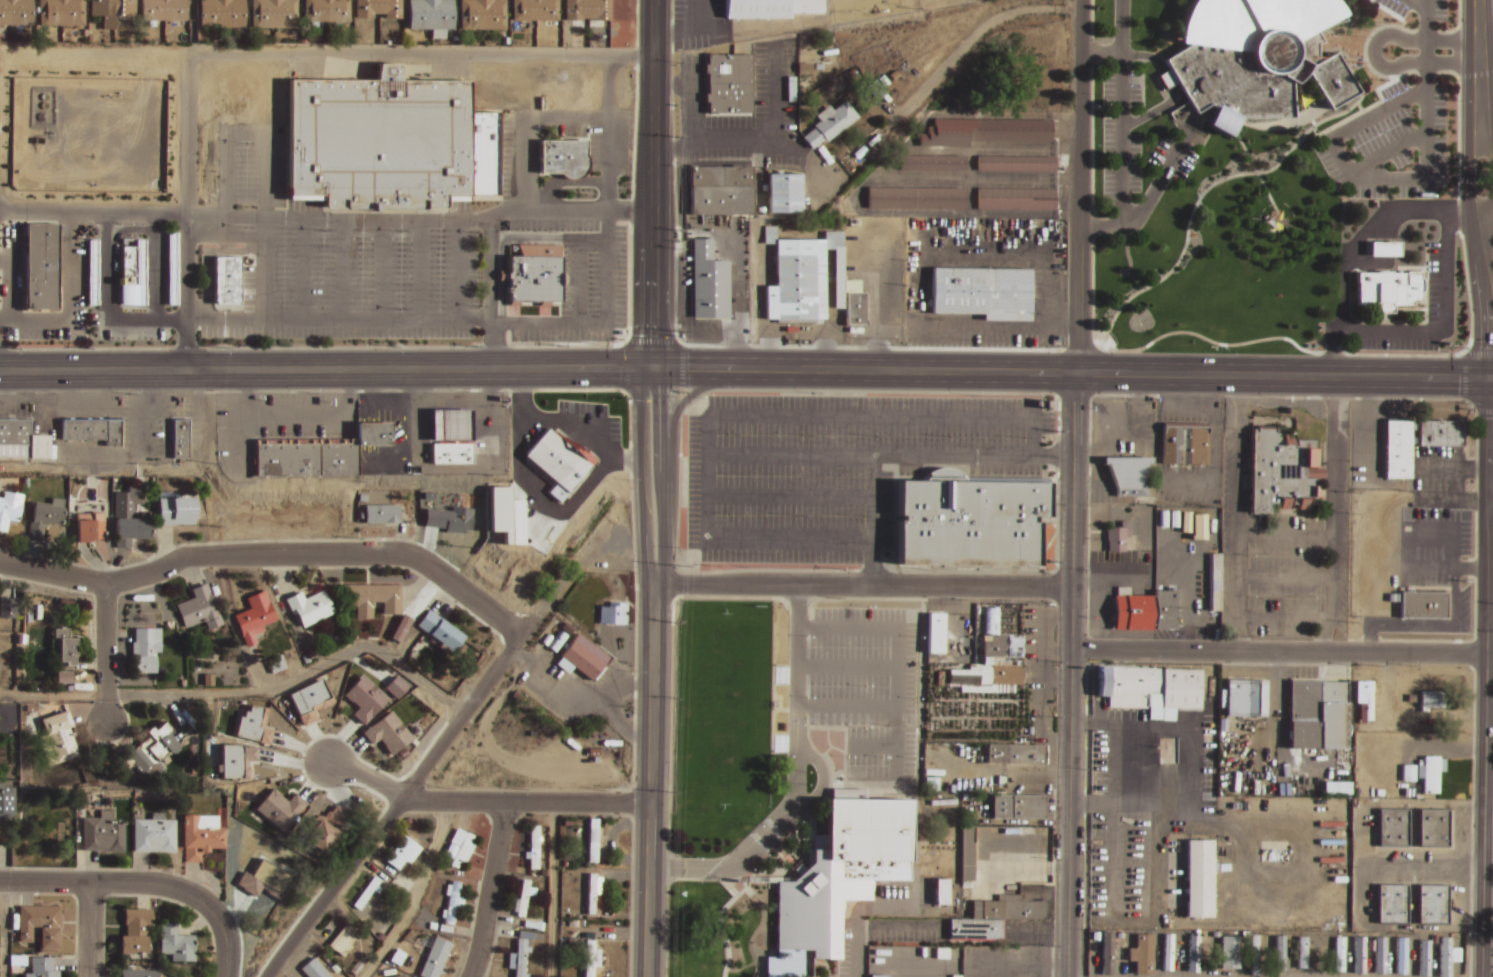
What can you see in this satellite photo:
road: (1353, 2)
road: (1416, 4)
building: (768, 8)
building: (379, 9)
building: (112, 11)
building: (164, 11)
building: (536, 11)
building: (589, 11)
building: (327, 12)
building: (16, 14)
building: (61, 14)
building: (222, 14)
building: (275, 14)
building: (431, 15)
building: (484, 16)
road: (1437, 33)
road: (968, 40)
road: (1092, 40)
road: (1099, 44)
road: (1427, 47)
road: (1102, 53)
road: (326, 54)
building: (1254, 58)
road: (1448, 64)
road: (1156, 68)
road: (1089, 71)
road: (1478, 71)
road: (654, 74)
road: (1173, 76)
road: (1093, 78)
building: (882, 81)
building: (728, 84)
road: (1173, 88)
road: (1486, 88)
building: (790, 89)
building: (875, 90)
road: (1144, 105)
road: (1129, 111)
road: (1122, 113)
parking lot: (1398, 114)
building: (828, 124)
building: (985, 131)
building: (388, 143)
road: (1487, 150)
parking lot: (1139, 155)
building: (562, 159)
building: (933, 163)
building: (1017, 164)
road: (1359, 176)
road: (1468, 179)
road: (1080, 186)
building: (719, 190)
road: (1153, 191)
building: (783, 193)
building: (917, 198)
road: (1460, 198)
building: (1016, 199)
road: (1488, 206)
road: (187, 212)
building: (1383, 250)
road: (1490, 257)
building: (40, 267)
building: (127, 267)
building: (171, 270)
building: (92, 273)
building: (534, 275)
building: (225, 280)
building: (135, 281)
building: (708, 282)
building: (811, 282)
building: (1388, 290)
building: (981, 292)
road: (1174, 334)
road: (642, 366)
road: (661, 366)
traffic signals: (643, 370)
traffic signals: (662, 370)
road: (746, 370)
traffic signals: (1490, 380)
road: (696, 391)
road: (749, 416)
building: (447, 426)
building: (92, 434)
building: (1440, 436)
building: (179, 438)
building: (21, 443)
building: (1186, 449)
building: (1397, 452)
building: (449, 453)
building: (317, 454)
road: (892, 457)
building: (557, 459)
parking lot: (837, 469)
building: (1280, 471)
building: (1128, 476)
road: (789, 497)
building: (8, 512)
building: (175, 512)
building: (383, 516)
building: (969, 519)
building: (446, 521)
road: (871, 521)
building: (43, 522)
building: (1198, 527)
building: (132, 532)
building: (90, 534)
building: (1114, 539)
road: (270, 555)
building: (1213, 582)
road: (862, 585)
road: (1487, 595)
road: (909, 597)
building: (372, 602)
building: (1422, 605)
road: (788, 609)
building: (5, 610)
building: (197, 610)
building: (309, 610)
building: (1144, 611)
building: (612, 613)
building: (255, 620)
road: (1490, 622)
building: (400, 630)
building: (934, 634)
building: (441, 637)
building: (146, 643)
building: (1001, 645)
building: (63, 653)
road: (105, 653)
road: (1278, 653)
road: (636, 654)
building: (580, 658)
building: (144, 668)
road: (1070, 674)
parking lot: (869, 686)
building: (1149, 690)
road: (247, 692)
road: (580, 698)
building: (1245, 699)
building: (1428, 701)
building: (1364, 702)
building: (306, 704)
road: (469, 706)
building: (945, 710)
road: (1489, 713)
building: (1317, 715)
park: (726, 722)
building: (252, 727)
building: (58, 737)
road: (847, 743)
building: (149, 746)
building: (1015, 754)
building: (235, 763)
building: (1432, 771)
road: (368, 777)
road: (796, 778)
road: (651, 781)
road: (822, 781)
building: (6, 800)
road: (527, 802)
building: (1017, 807)
building: (279, 809)
building: (1393, 825)
building: (1433, 826)
building: (321, 831)
building: (154, 832)
building: (103, 833)
building: (202, 835)
building: (594, 839)
building: (534, 846)
building: (461, 848)
building: (404, 851)
building: (966, 854)
building: (839, 872)
building: (1199, 876)
building: (263, 882)
road: (105, 884)
road: (334, 886)
road: (488, 890)
building: (367, 891)
building: (940, 892)
building: (592, 893)
building: (524, 897)
building: (1392, 903)
building: (1432, 903)
building: (451, 907)
building: (993, 918)
building: (40, 925)
building: (134, 929)
road: (0, 930)
road: (88, 930)
park: (720, 931)
building: (341, 934)
building: (1132, 935)
building: (1215, 937)
road: (223, 938)
building: (174, 946)
building: (1422, 948)
building: (1171, 949)
building: (1406, 949)
building: (1110, 950)
building: (1230, 950)
building: (1319, 950)
building: (1302, 951)
building: (1146, 952)
building: (1190, 952)
building: (1254, 953)
building: (1279, 954)
building: (1349, 954)
building: (1372, 954)
building: (1389, 954)
building: (1445, 955)
building: (432, 956)
building: (1337, 956)
building: (521, 957)
building: (590, 957)
building: (1127, 965)
building: (42, 967)
park: (823, 967)
building: (306, 970)
building: (139, 973)
building: (881, 975)

